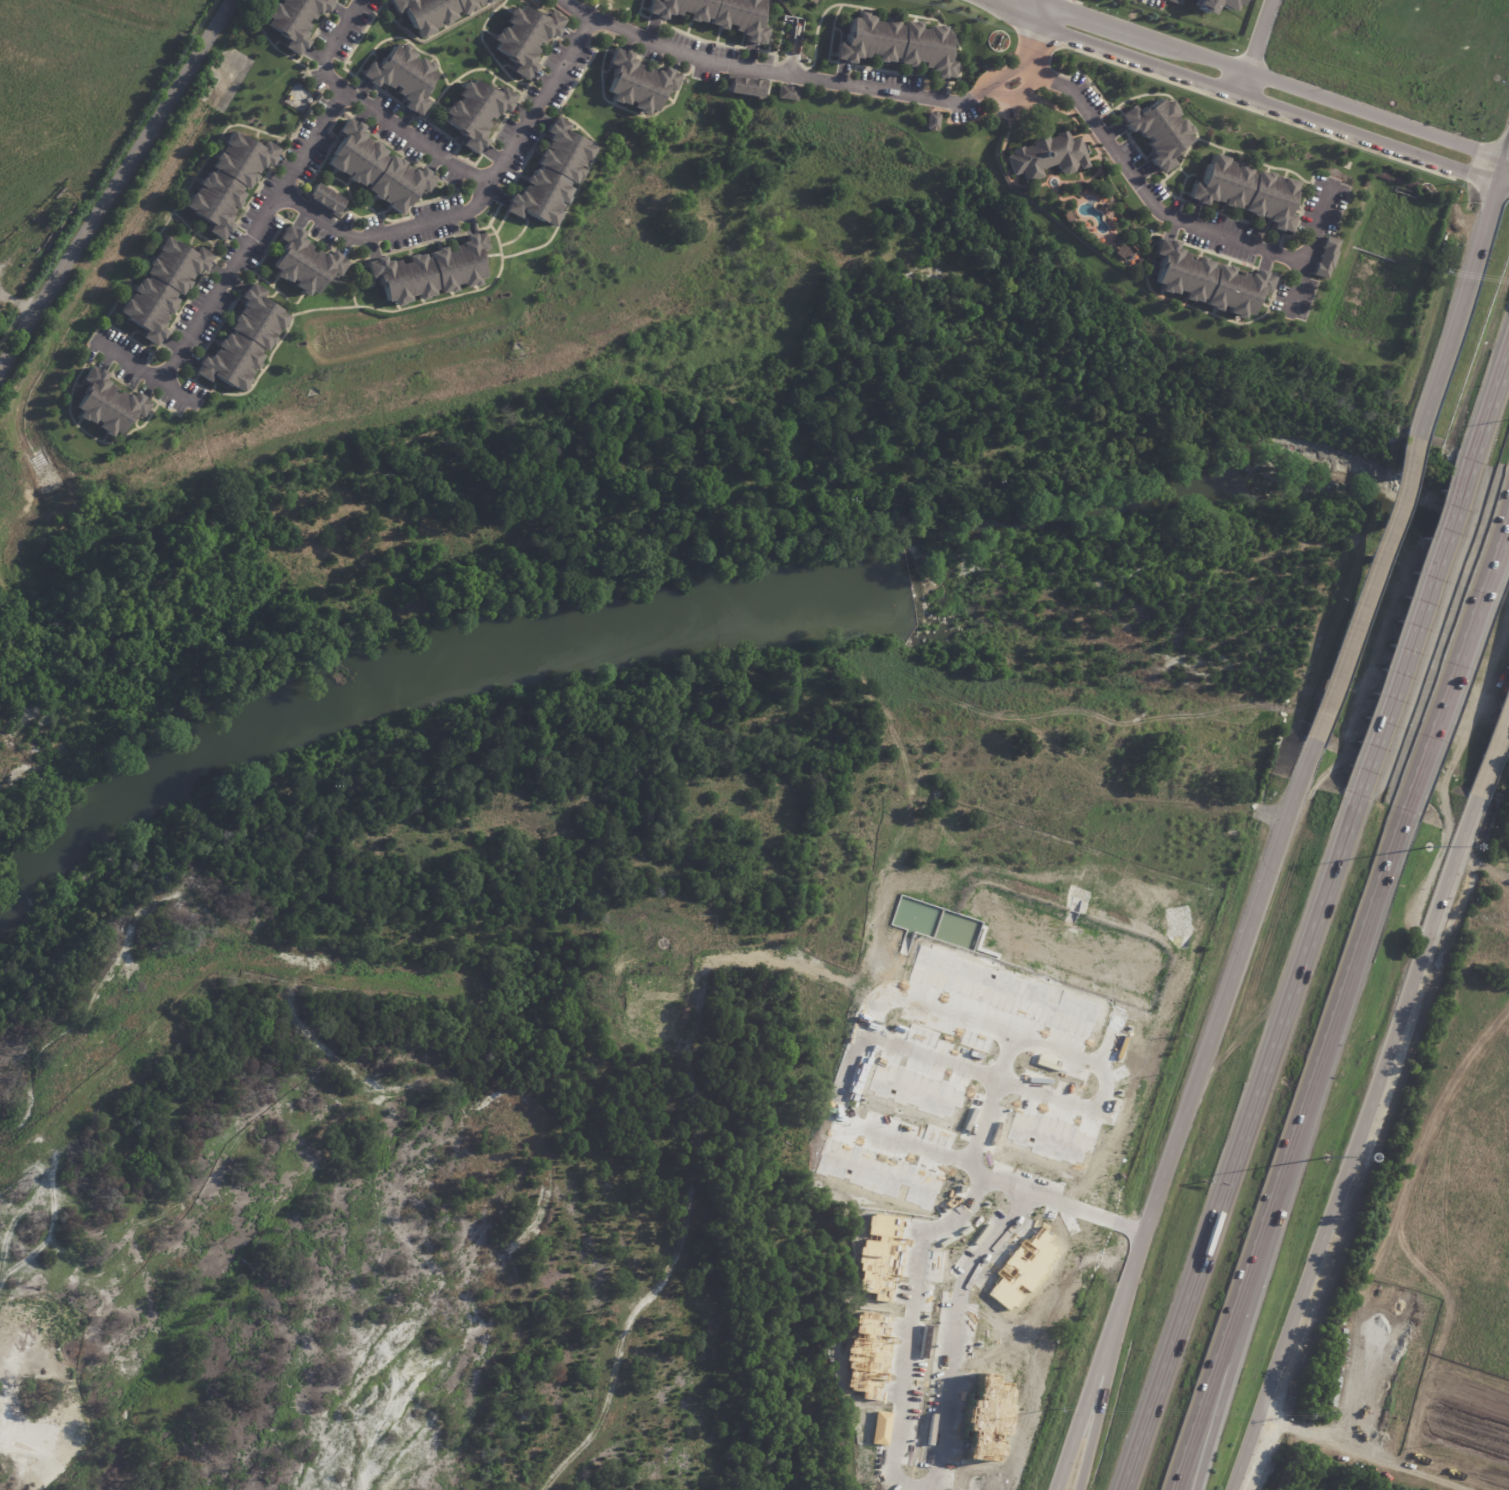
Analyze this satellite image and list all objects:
building: (1174, 3)
building: (1215, 7)
road: (571, 8)
road: (1023, 8)
road: (1042, 11)
building: (433, 13)
building: (717, 14)
building: (295, 20)
building: (525, 39)
building: (896, 45)
road: (1256, 46)
building: (401, 77)
road: (1275, 79)
building: (635, 84)
road: (842, 86)
building: (745, 88)
road: (1237, 92)
building: (786, 93)
building: (474, 112)
building: (931, 121)
building: (1158, 129)
building: (1047, 155)
road: (1505, 161)
road: (449, 162)
building: (375, 169)
road: (1505, 170)
building: (549, 176)
road: (115, 182)
building: (226, 182)
building: (1246, 189)
road: (1144, 193)
building: (324, 200)
road: (380, 231)
road: (246, 236)
road: (1306, 246)
building: (1326, 256)
building: (302, 263)
building: (429, 273)
building: (1208, 279)
building: (159, 288)
road: (1459, 299)
building: (242, 342)
road: (138, 371)
road: (1490, 402)
building: (105, 405)
road: (1364, 586)
road: (1412, 630)
road: (1453, 650)
road: (1492, 752)
building: (1000, 990)
road: (880, 1006)
road: (1103, 1039)
road: (933, 1057)
road: (1101, 1088)
building: (913, 1092)
road: (1181, 1116)
building: (1048, 1138)
road: (1353, 1145)
road: (1236, 1146)
road: (1283, 1151)
building: (878, 1171)
road: (1126, 1222)
building: (876, 1257)
building: (1019, 1269)
road: (961, 1289)
road: (1246, 1293)
road: (912, 1297)
building: (863, 1353)
road: (1099, 1389)
building: (980, 1417)
road: (1362, 1456)

